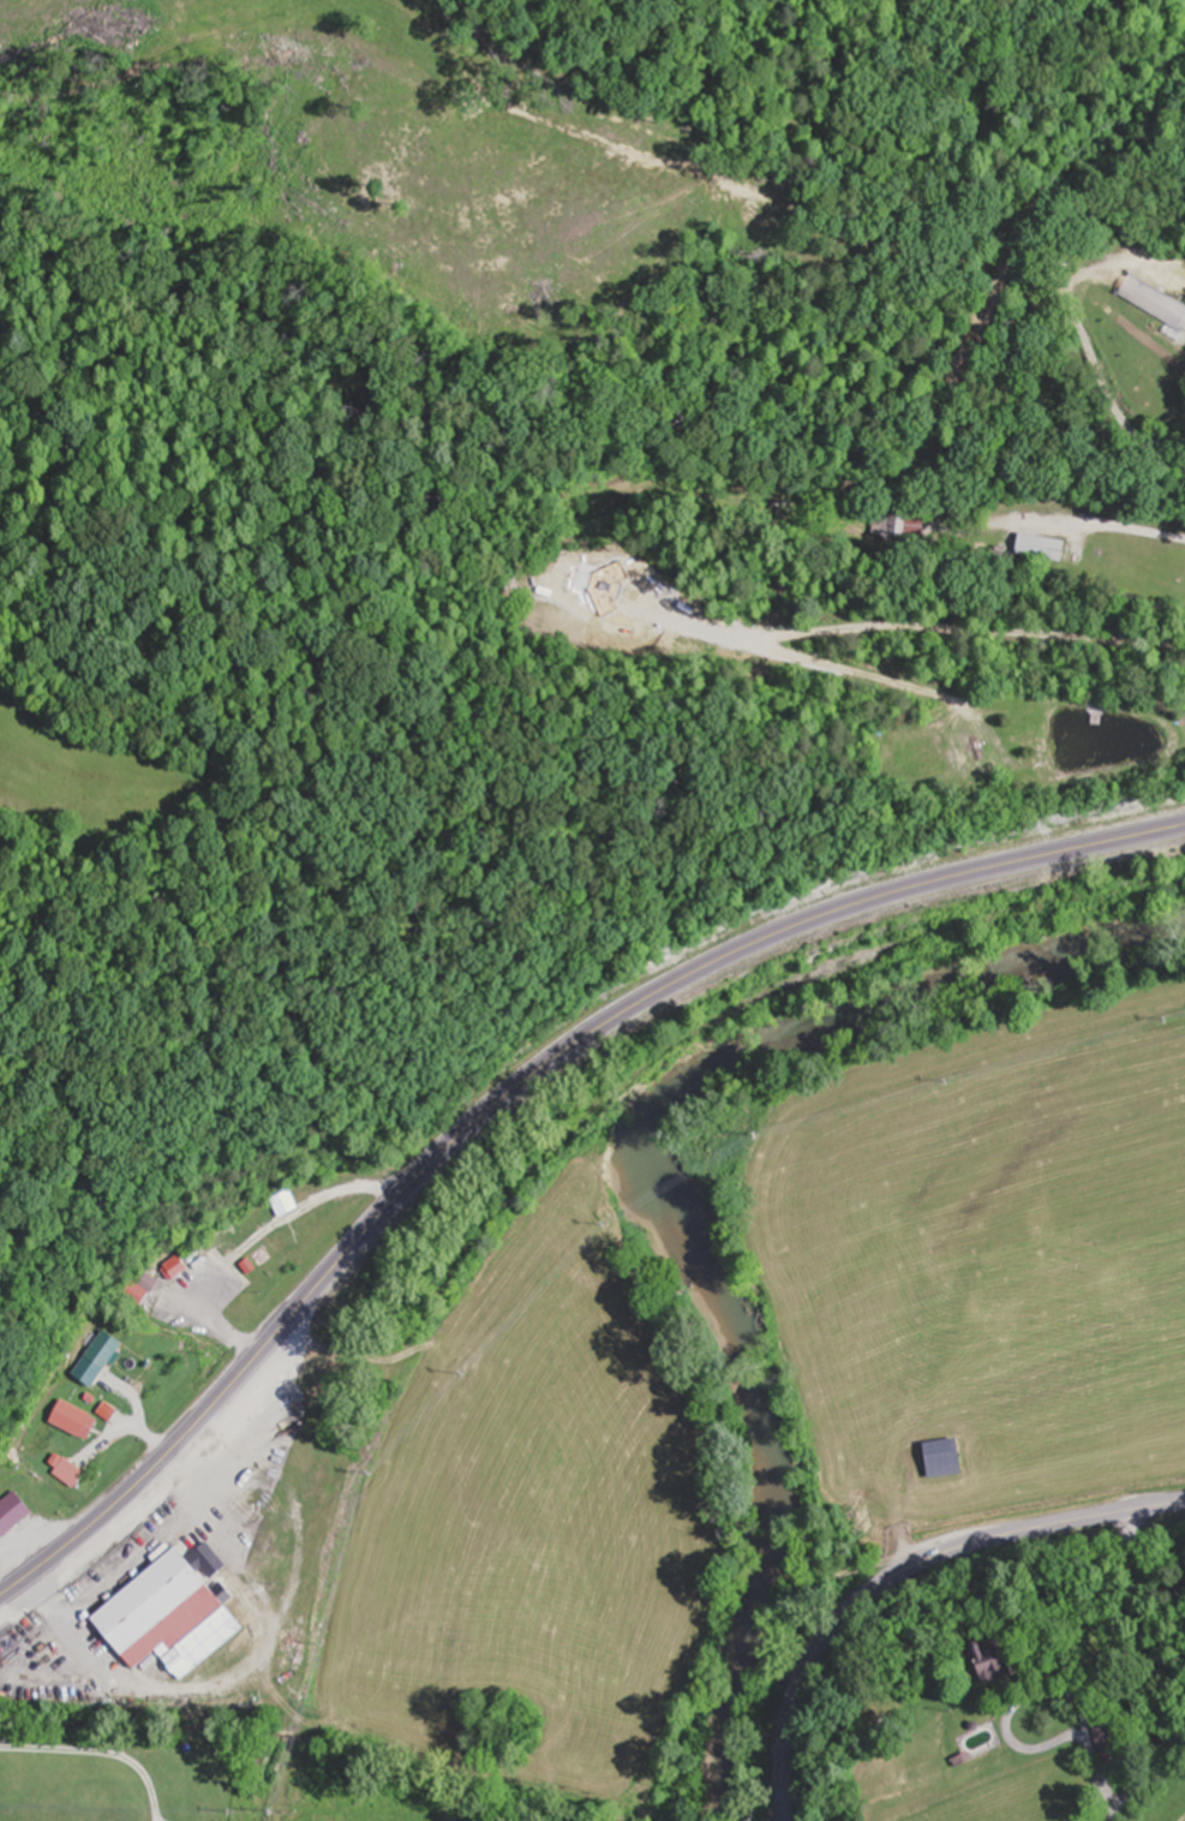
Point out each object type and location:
road: (1029, 483)
building: (896, 521)
road: (516, 1088)
road: (219, 1159)
river: (656, 1192)
building: (265, 1255)
building: (184, 1262)
building: (139, 1290)
building: (108, 1350)
building: (66, 1426)
building: (948, 1458)
building: (72, 1473)
building: (14, 1513)
road: (902, 1571)
building: (174, 1617)
building: (992, 1660)
building: (1107, 1731)

